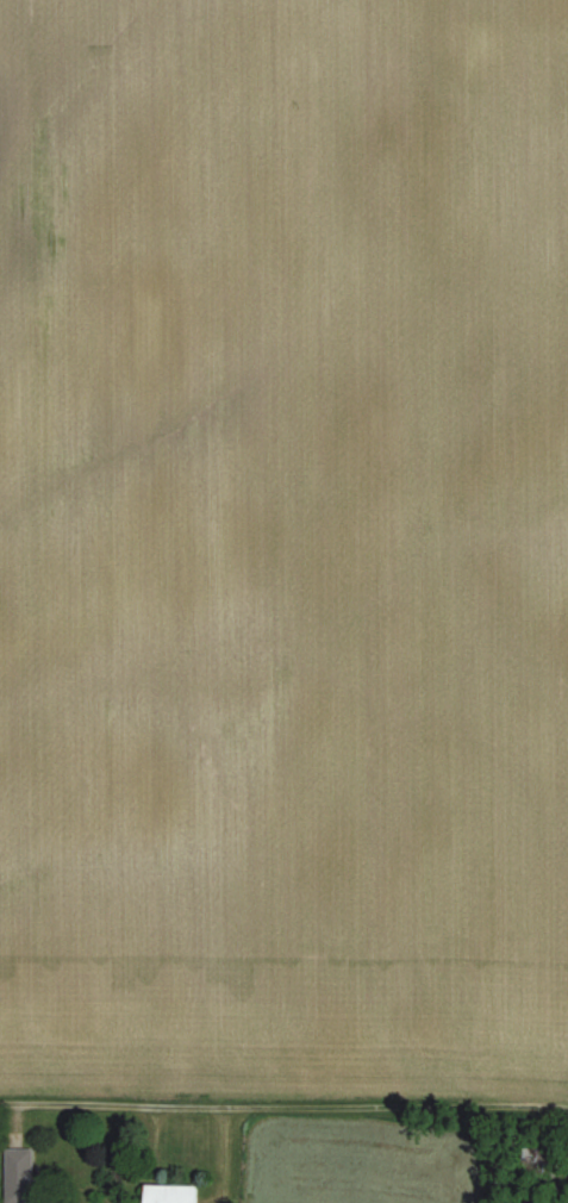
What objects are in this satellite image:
road: (283, 1101)
building: (533, 1166)
building: (14, 1174)
building: (166, 1192)

